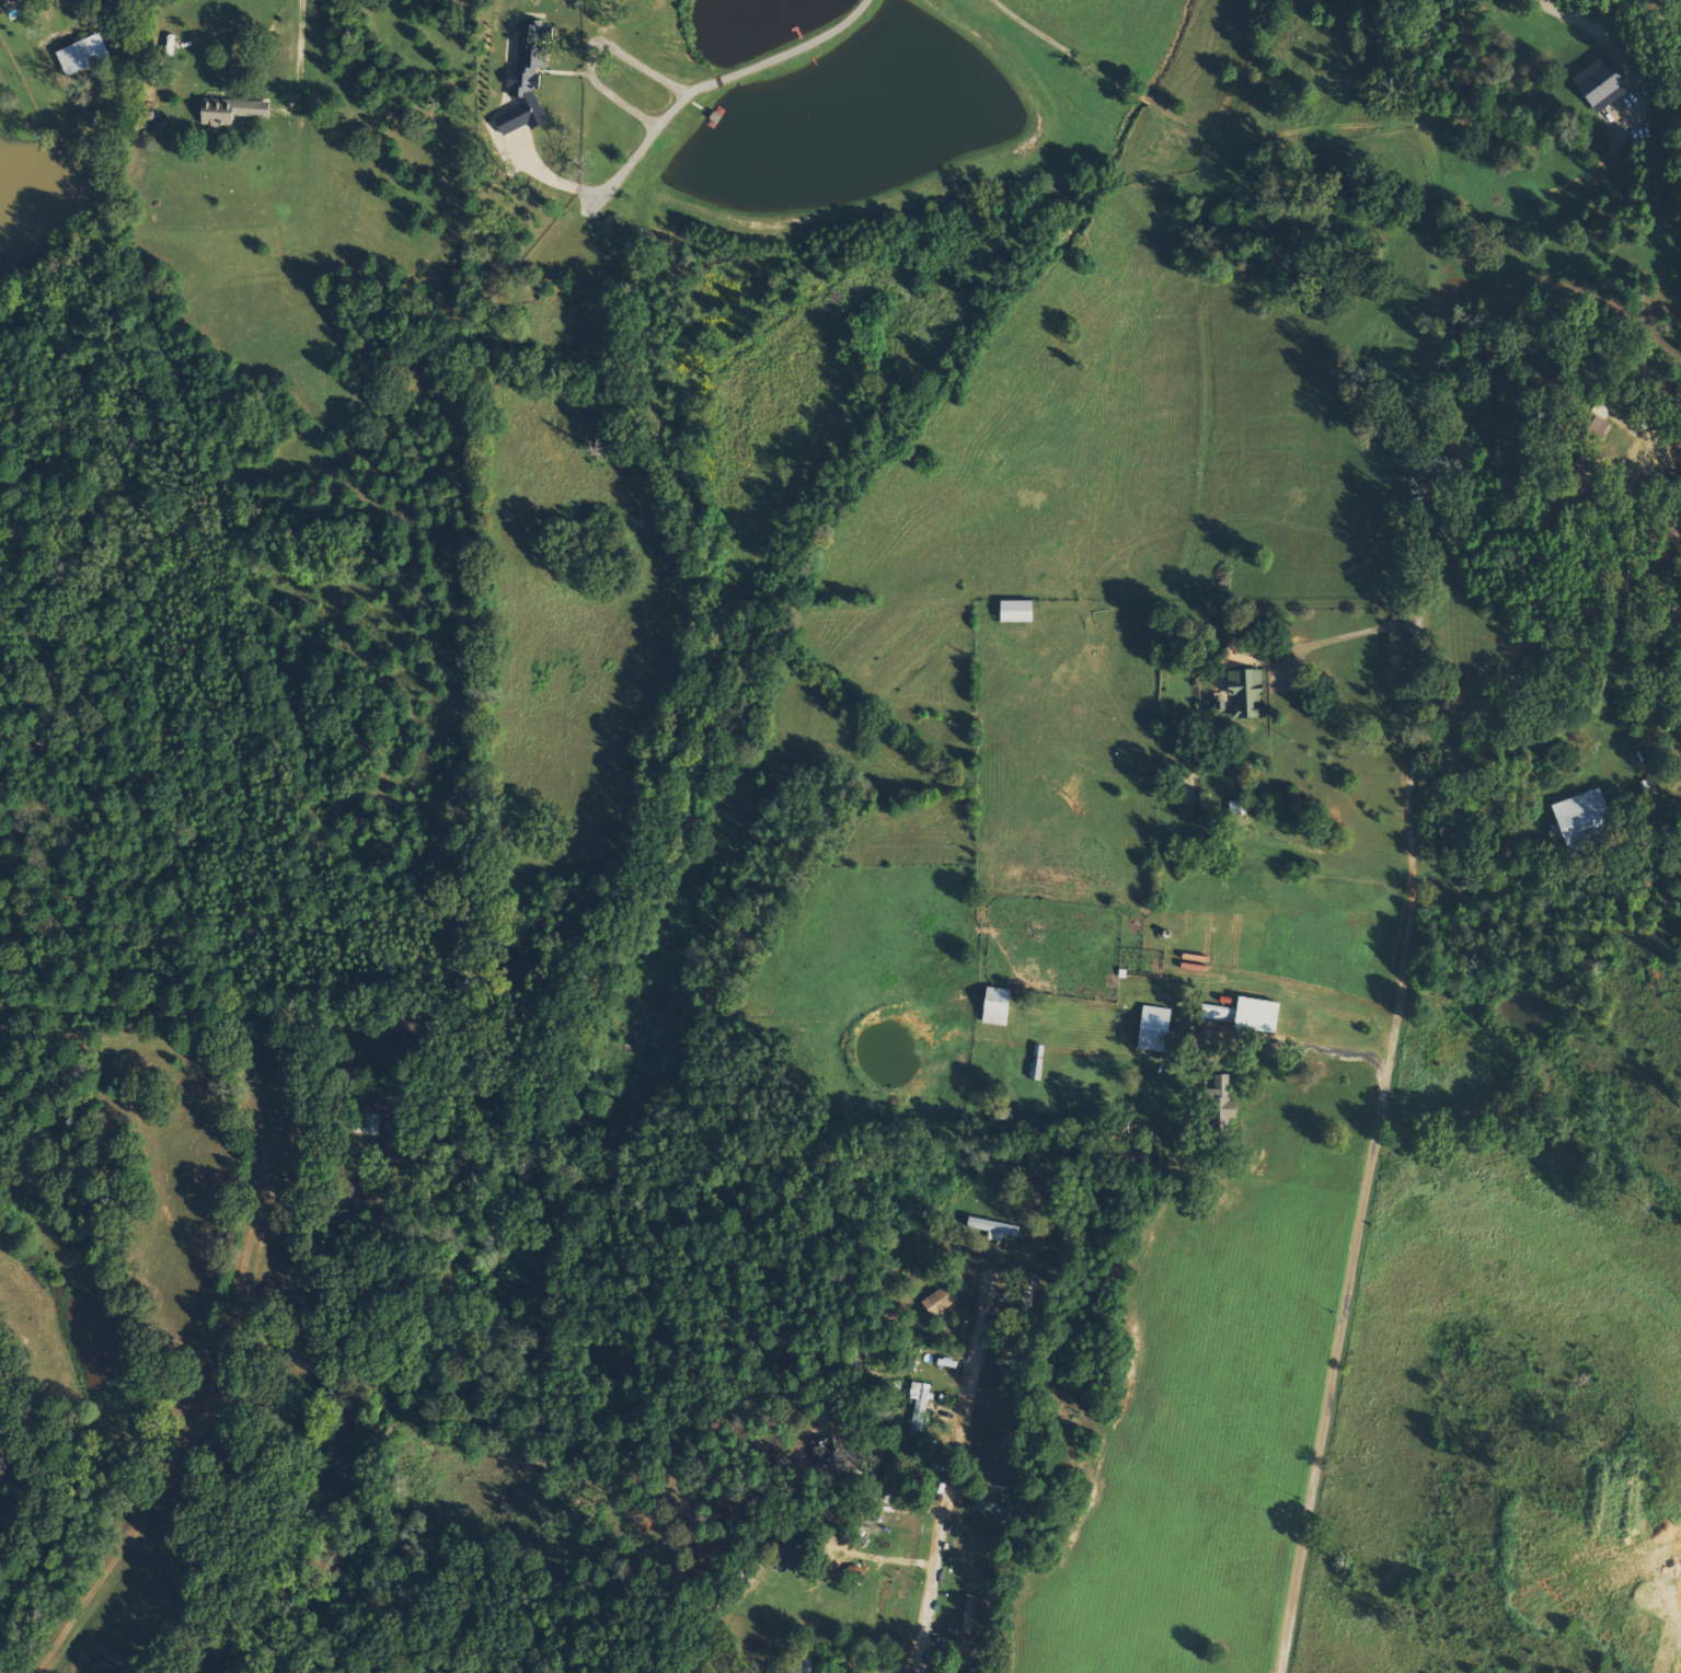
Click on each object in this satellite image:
building: (85, 55)
building: (530, 78)
building: (235, 114)
building: (1581, 428)
building: (1012, 611)
building: (1242, 693)
building: (1576, 816)
building: (1244, 1014)
building: (1149, 1028)
building: (1216, 1100)
building: (989, 1226)
building: (936, 1302)
road: (1349, 1309)
building: (916, 1408)
road: (951, 1486)
building: (988, 1508)
building: (879, 1600)
building: (805, 1665)

